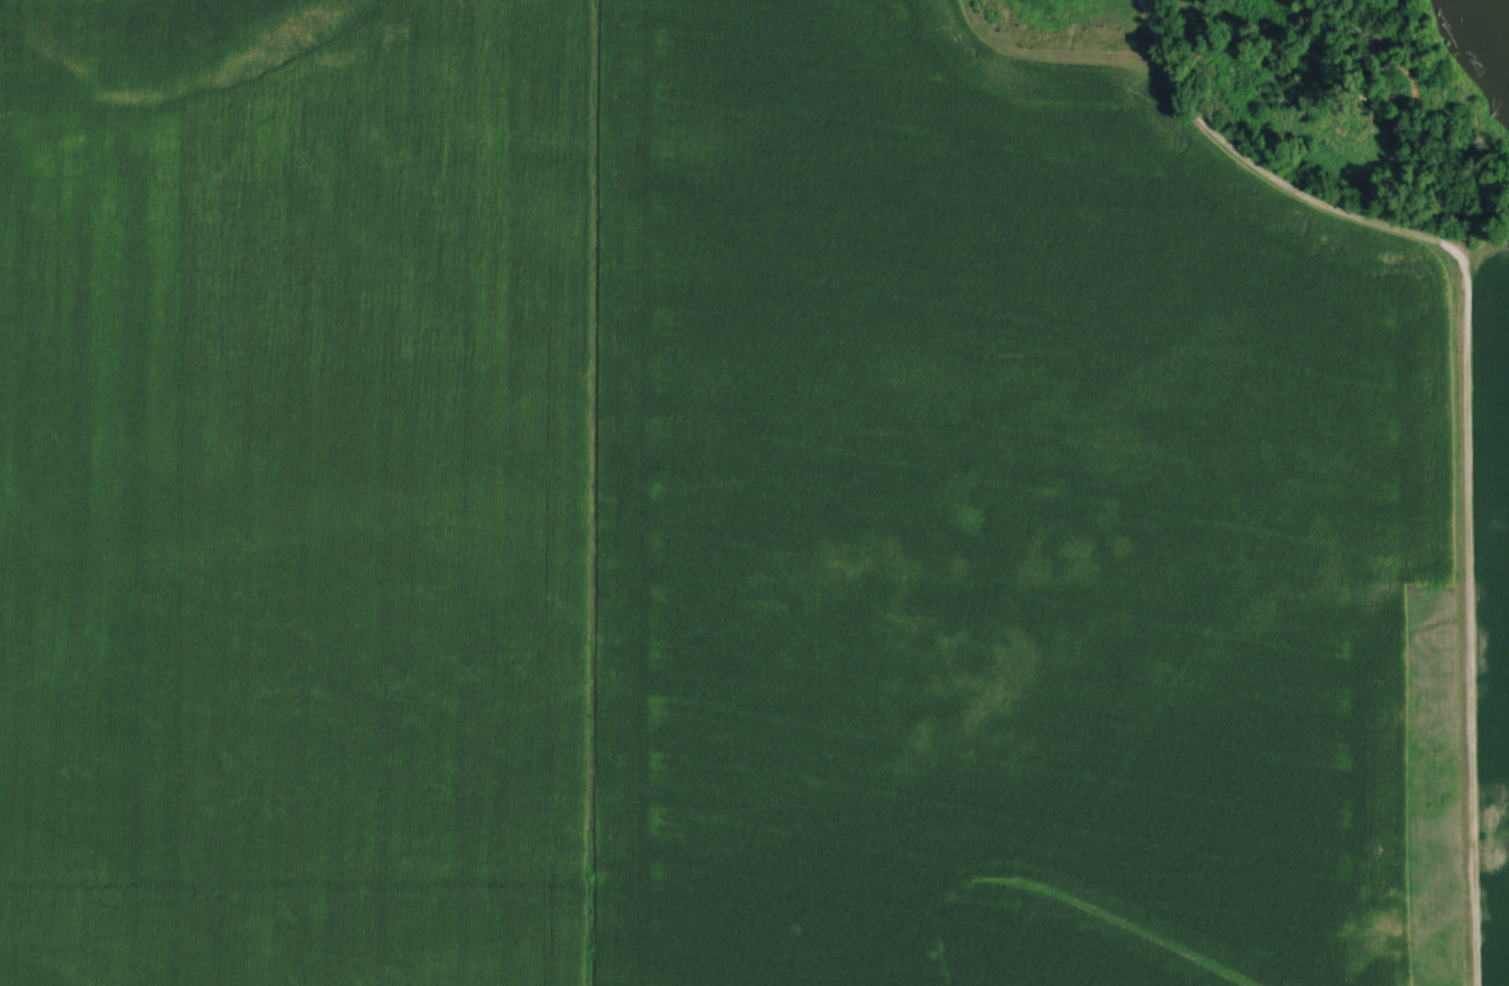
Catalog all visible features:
road: (1457, 406)

